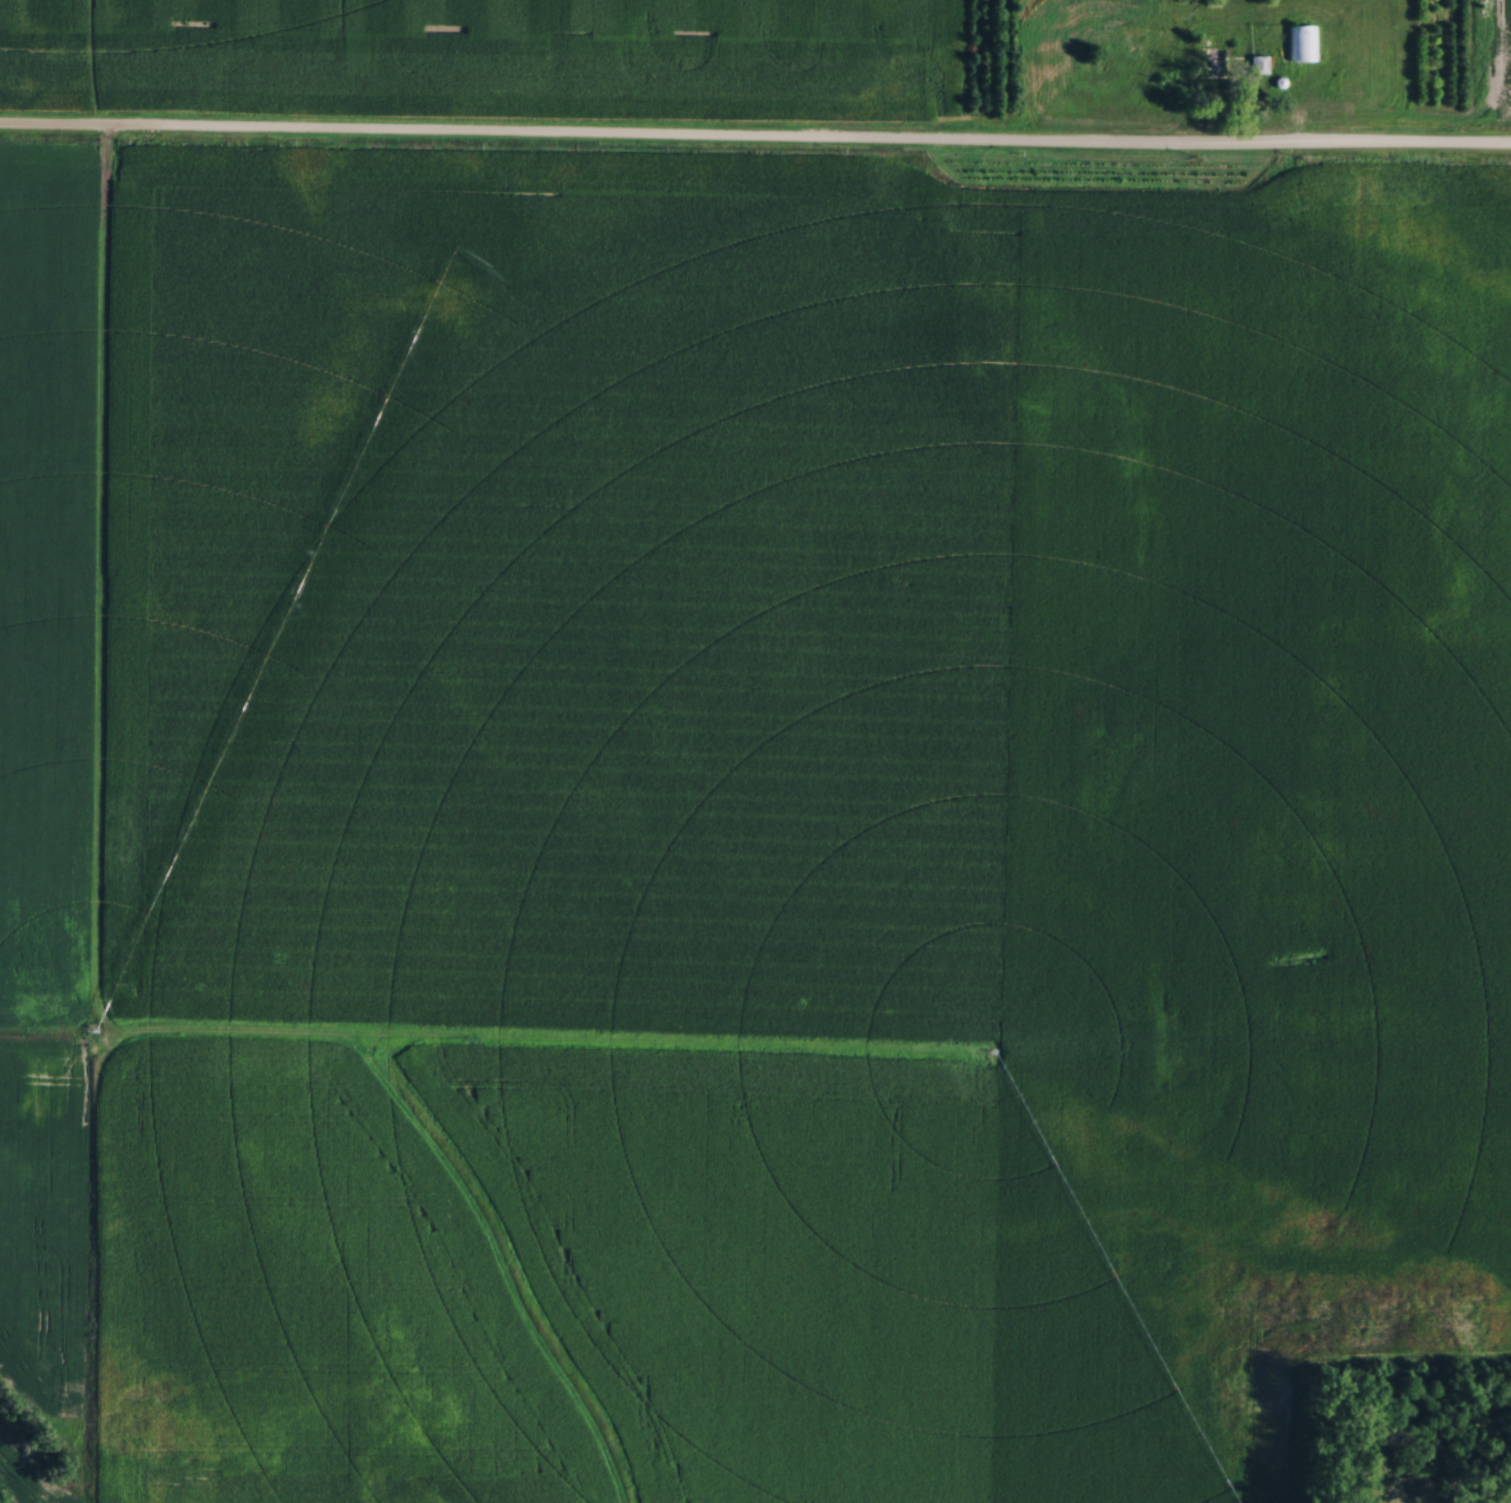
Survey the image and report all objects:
building: (1304, 43)
building: (1215, 61)
building: (1260, 65)
road: (755, 142)

